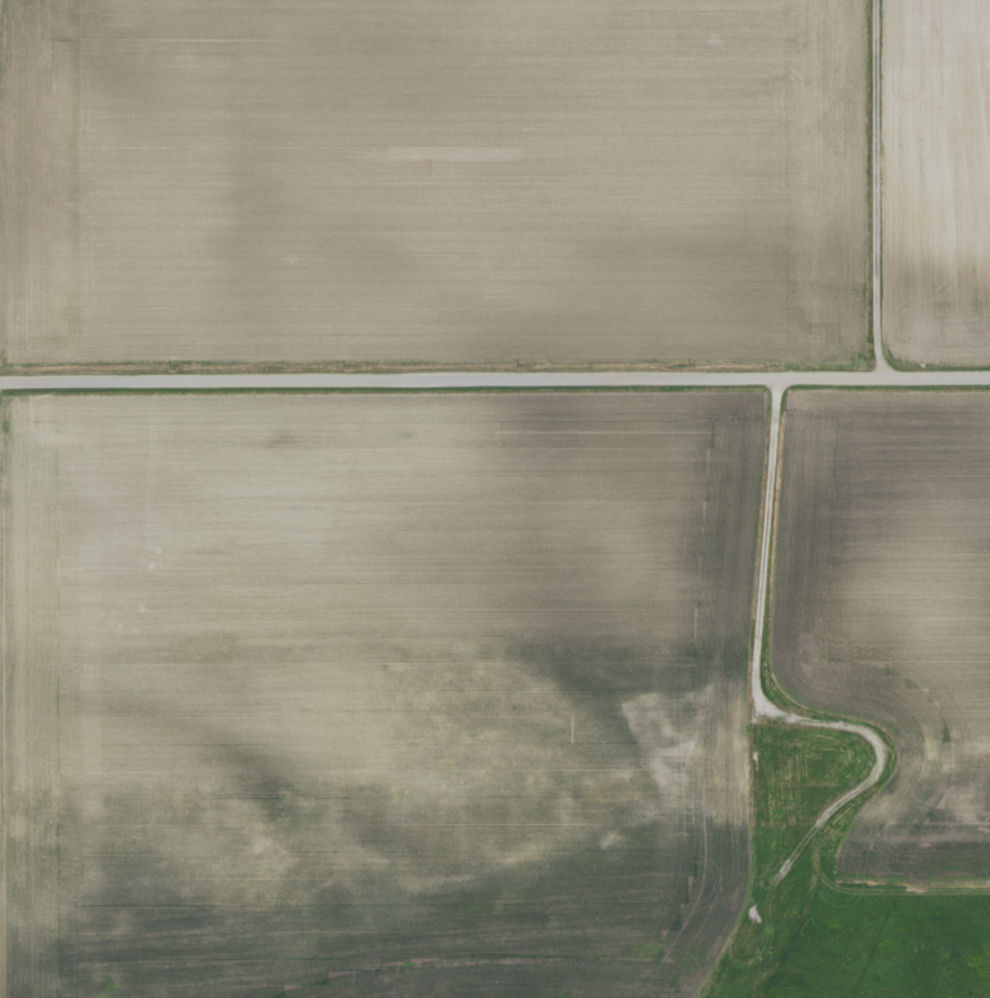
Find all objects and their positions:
road: (879, 189)
road: (495, 379)
road: (765, 545)

